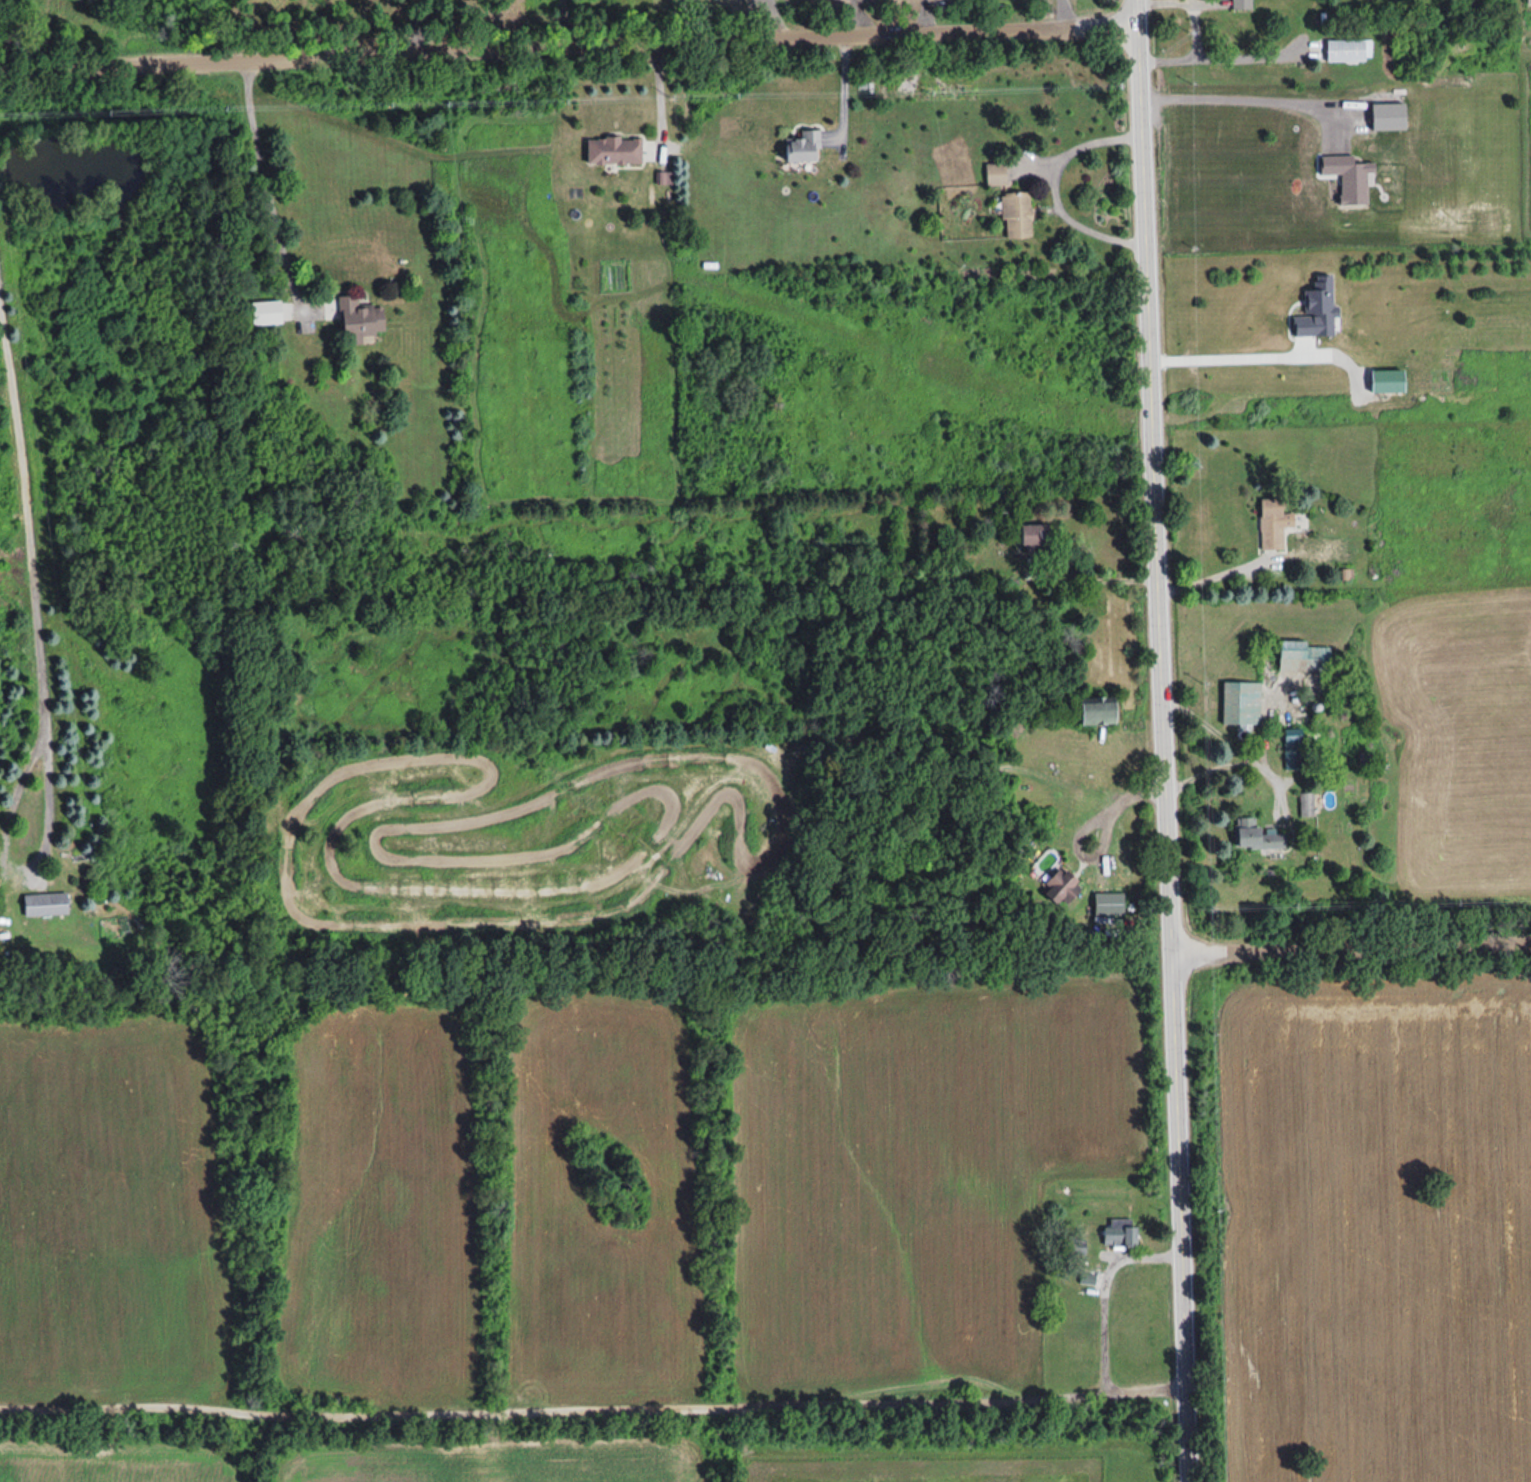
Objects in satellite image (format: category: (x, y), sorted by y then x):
road: (1147, 1)
building: (1528, 1)
building: (1243, 4)
road: (569, 44)
building: (1349, 49)
road: (1198, 52)
road: (848, 87)
road: (658, 94)
building: (805, 146)
building: (615, 150)
building: (996, 173)
road: (1053, 186)
road: (267, 187)
building: (1018, 215)
building: (361, 318)
road: (1227, 356)
road: (27, 513)
building: (1274, 524)
building: (1036, 536)
road: (1092, 572)
road: (1213, 574)
building: (1304, 655)
building: (1241, 701)
building: (1101, 710)
road: (1212, 727)
road: (1164, 740)
building: (1293, 747)
road: (1225, 763)
building: (1306, 803)
road: (1085, 823)
building: (1259, 834)
road: (21, 863)
building: (1062, 887)
building: (47, 903)
building: (1110, 903)
road: (1351, 948)
building: (1122, 1232)
road: (1104, 1291)
road: (592, 1412)

